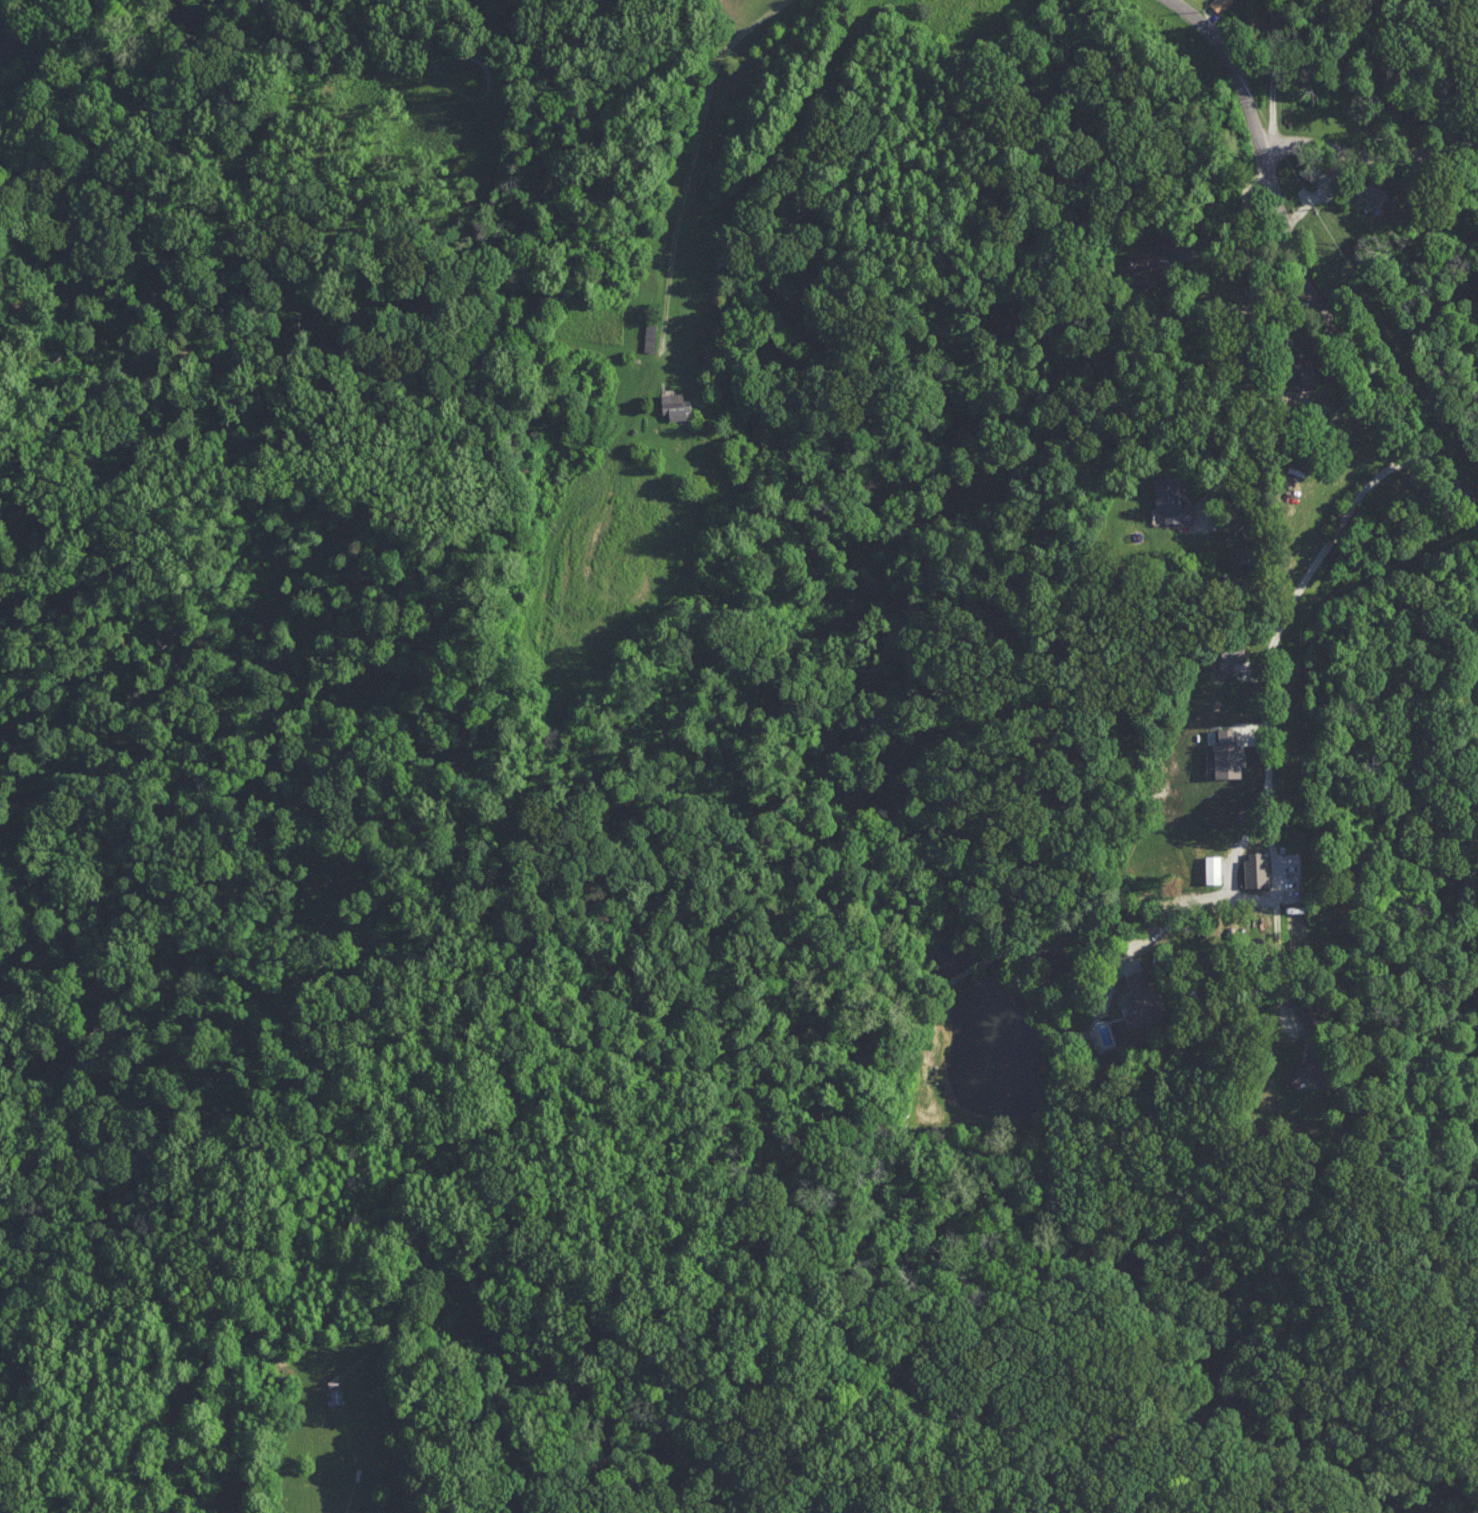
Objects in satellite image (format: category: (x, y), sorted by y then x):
building: (1220, 4)
road: (1273, 71)
road: (690, 152)
road: (1367, 155)
building: (1379, 194)
road: (1309, 251)
building: (1149, 262)
road: (1253, 349)
building: (1302, 372)
building: (676, 405)
building: (1171, 499)
building: (1231, 654)
road: (1262, 700)
building: (1229, 754)
road: (1235, 867)
building: (1213, 868)
building: (1256, 872)
road: (1176, 910)
building: (1142, 1000)
building: (1310, 1002)
building: (1304, 1071)

